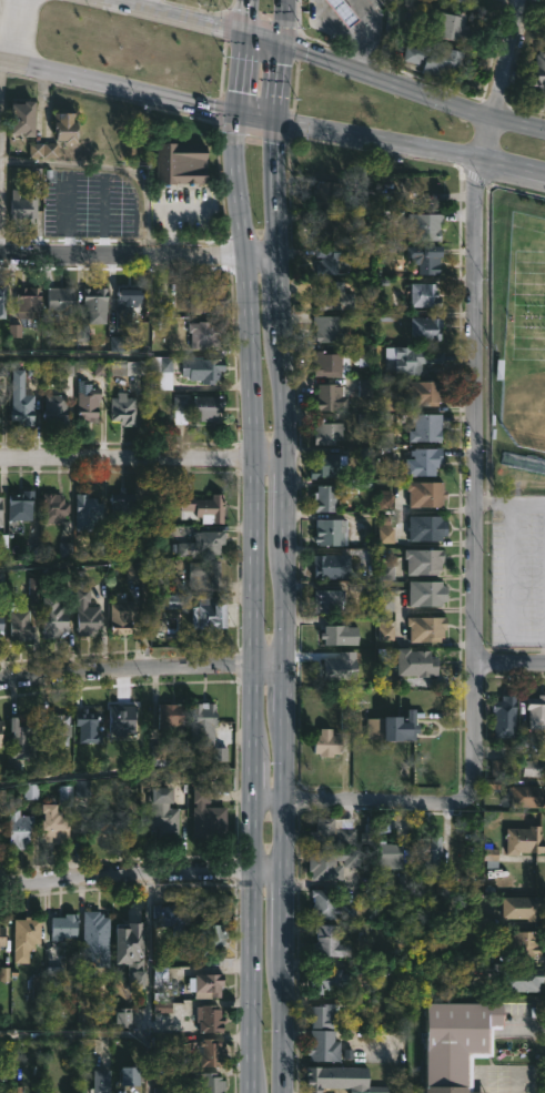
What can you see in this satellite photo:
building: (465, 1)
building: (414, 4)
road: (141, 6)
building: (344, 11)
building: (349, 27)
building: (454, 28)
road: (16, 31)
road: (362, 32)
traffic signals: (250, 41)
traffic signals: (283, 49)
building: (437, 60)
road: (319, 61)
building: (541, 63)
building: (23, 117)
traffic signals: (240, 120)
building: (64, 125)
road: (271, 125)
traffic signals: (274, 126)
building: (180, 162)
building: (330, 193)
building: (22, 209)
road: (170, 213)
road: (68, 215)
road: (102, 216)
building: (425, 226)
building: (333, 231)
road: (261, 251)
road: (122, 252)
building: (330, 257)
building: (425, 259)
building: (332, 295)
building: (425, 295)
building: (61, 298)
building: (208, 300)
building: (2, 302)
building: (29, 303)
building: (95, 304)
building: (129, 308)
road: (474, 327)
building: (327, 330)
building: (428, 330)
road: (251, 331)
park: (517, 333)
building: (206, 334)
road: (57, 355)
building: (412, 358)
building: (330, 362)
building: (125, 367)
building: (203, 370)
building: (425, 393)
building: (0, 396)
building: (332, 397)
road: (290, 398)
building: (21, 399)
building: (87, 402)
building: (208, 407)
building: (54, 408)
building: (123, 409)
building: (426, 427)
building: (327, 432)
road: (128, 458)
road: (272, 459)
building: (425, 462)
building: (331, 464)
building: (427, 494)
building: (325, 498)
road: (508, 502)
building: (121, 505)
building: (20, 506)
building: (53, 508)
building: (211, 509)
building: (0, 510)
building: (85, 512)
building: (427, 527)
building: (331, 532)
building: (202, 545)
building: (424, 561)
building: (334, 567)
road: (81, 571)
building: (205, 576)
building: (427, 593)
building: (329, 601)
building: (164, 613)
building: (208, 614)
building: (87, 615)
building: (121, 618)
building: (54, 619)
building: (19, 624)
building: (1, 625)
building: (425, 629)
building: (335, 636)
road: (509, 661)
road: (272, 662)
building: (416, 662)
road: (127, 668)
road: (254, 709)
building: (504, 712)
building: (537, 712)
building: (172, 717)
building: (121, 720)
building: (205, 721)
building: (90, 726)
road: (472, 727)
building: (394, 728)
building: (57, 730)
building: (1, 732)
building: (19, 740)
building: (329, 743)
building: (505, 767)
building: (533, 769)
road: (127, 772)
road: (254, 778)
building: (81, 795)
building: (528, 795)
road: (272, 800)
road: (382, 801)
building: (164, 814)
building: (206, 817)
building: (107, 821)
building: (54, 822)
building: (18, 828)
building: (334, 832)
road: (253, 834)
road: (290, 834)
building: (1, 837)
building: (525, 839)
building: (431, 851)
building: (391, 854)
building: (331, 862)
road: (271, 869)
road: (127, 881)
building: (329, 904)
building: (523, 905)
building: (163, 915)
building: (64, 925)
building: (95, 929)
building: (2, 935)
building: (211, 938)
building: (24, 939)
building: (330, 942)
building: (525, 942)
building: (131, 952)
building: (511, 975)
building: (327, 976)
road: (253, 981)
road: (290, 981)
building: (161, 984)
building: (205, 985)
road: (149, 986)
building: (323, 1014)
building: (210, 1020)
road: (74, 1035)
building: (461, 1041)
building: (324, 1044)
building: (211, 1052)
building: (131, 1077)
building: (324, 1077)
building: (101, 1081)
building: (209, 1083)
building: (376, 1089)

